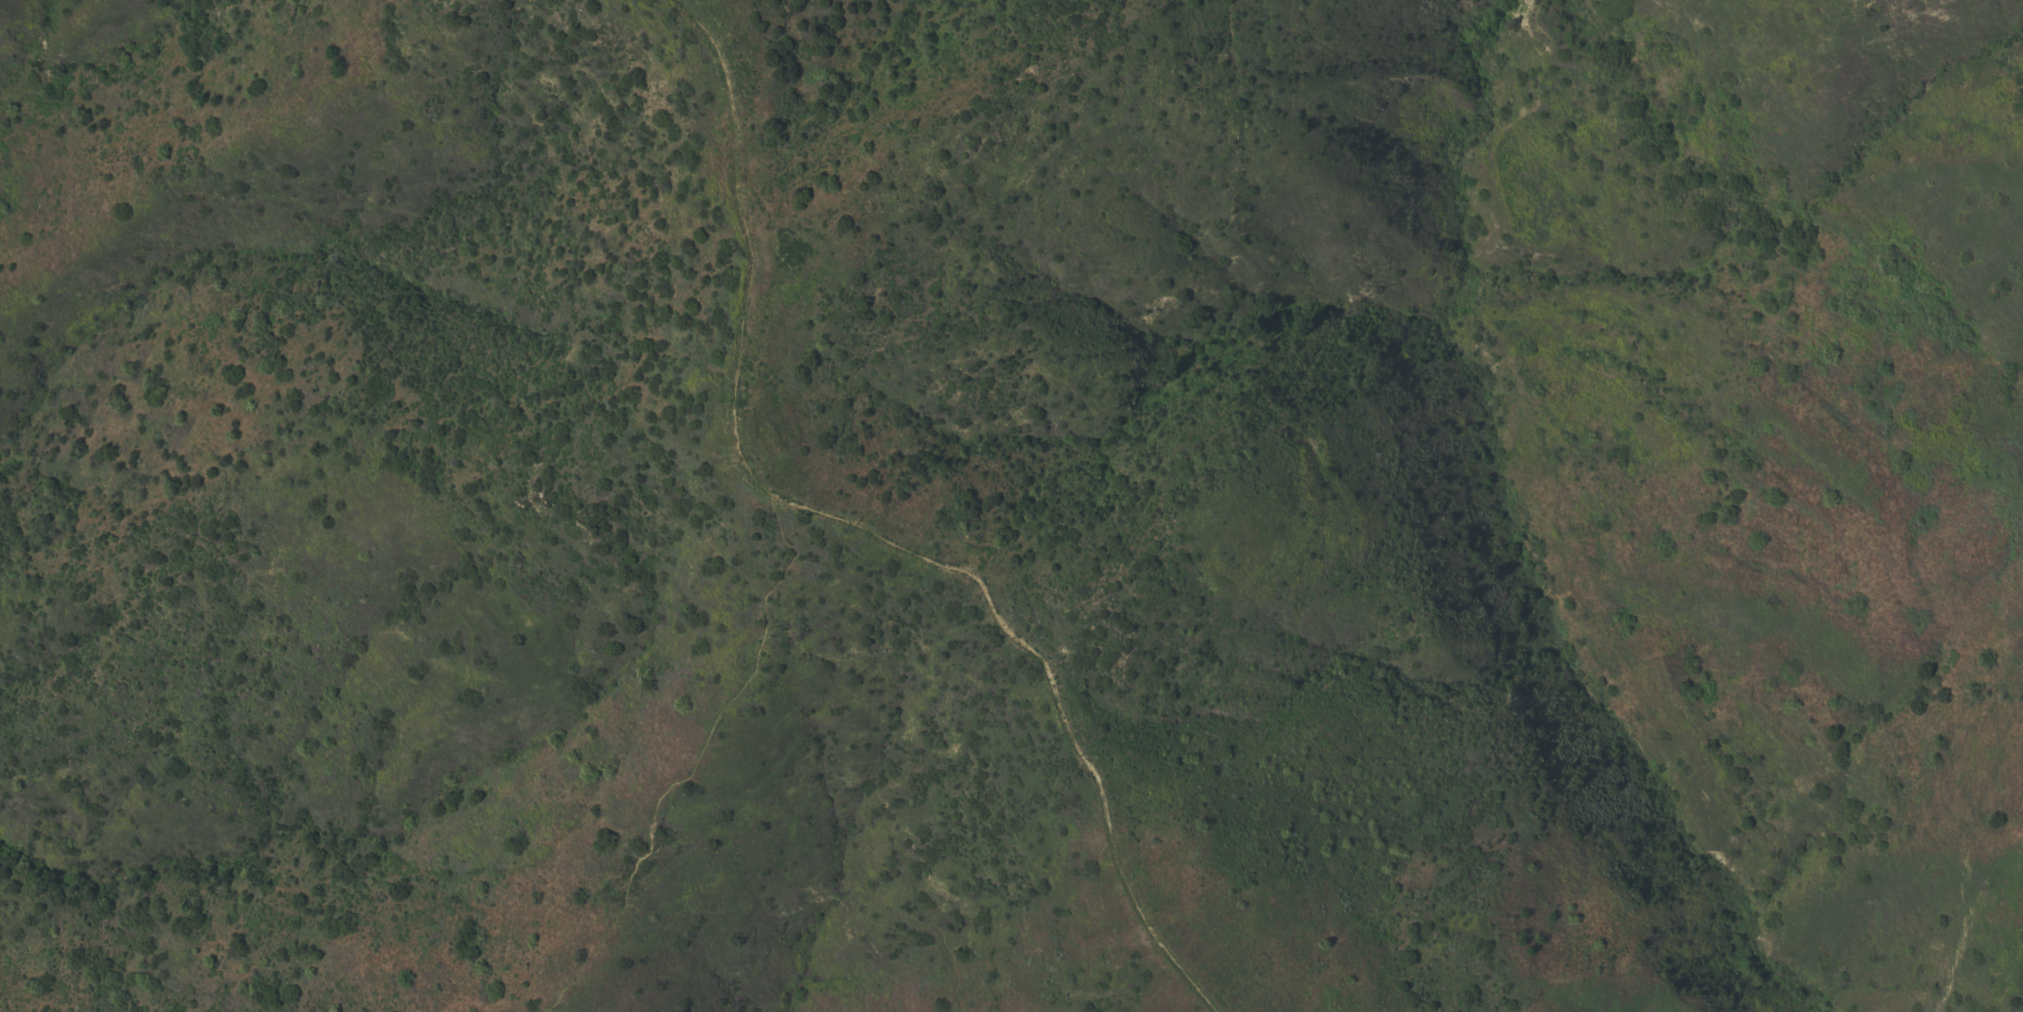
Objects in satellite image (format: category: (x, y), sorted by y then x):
road: (858, 533)

